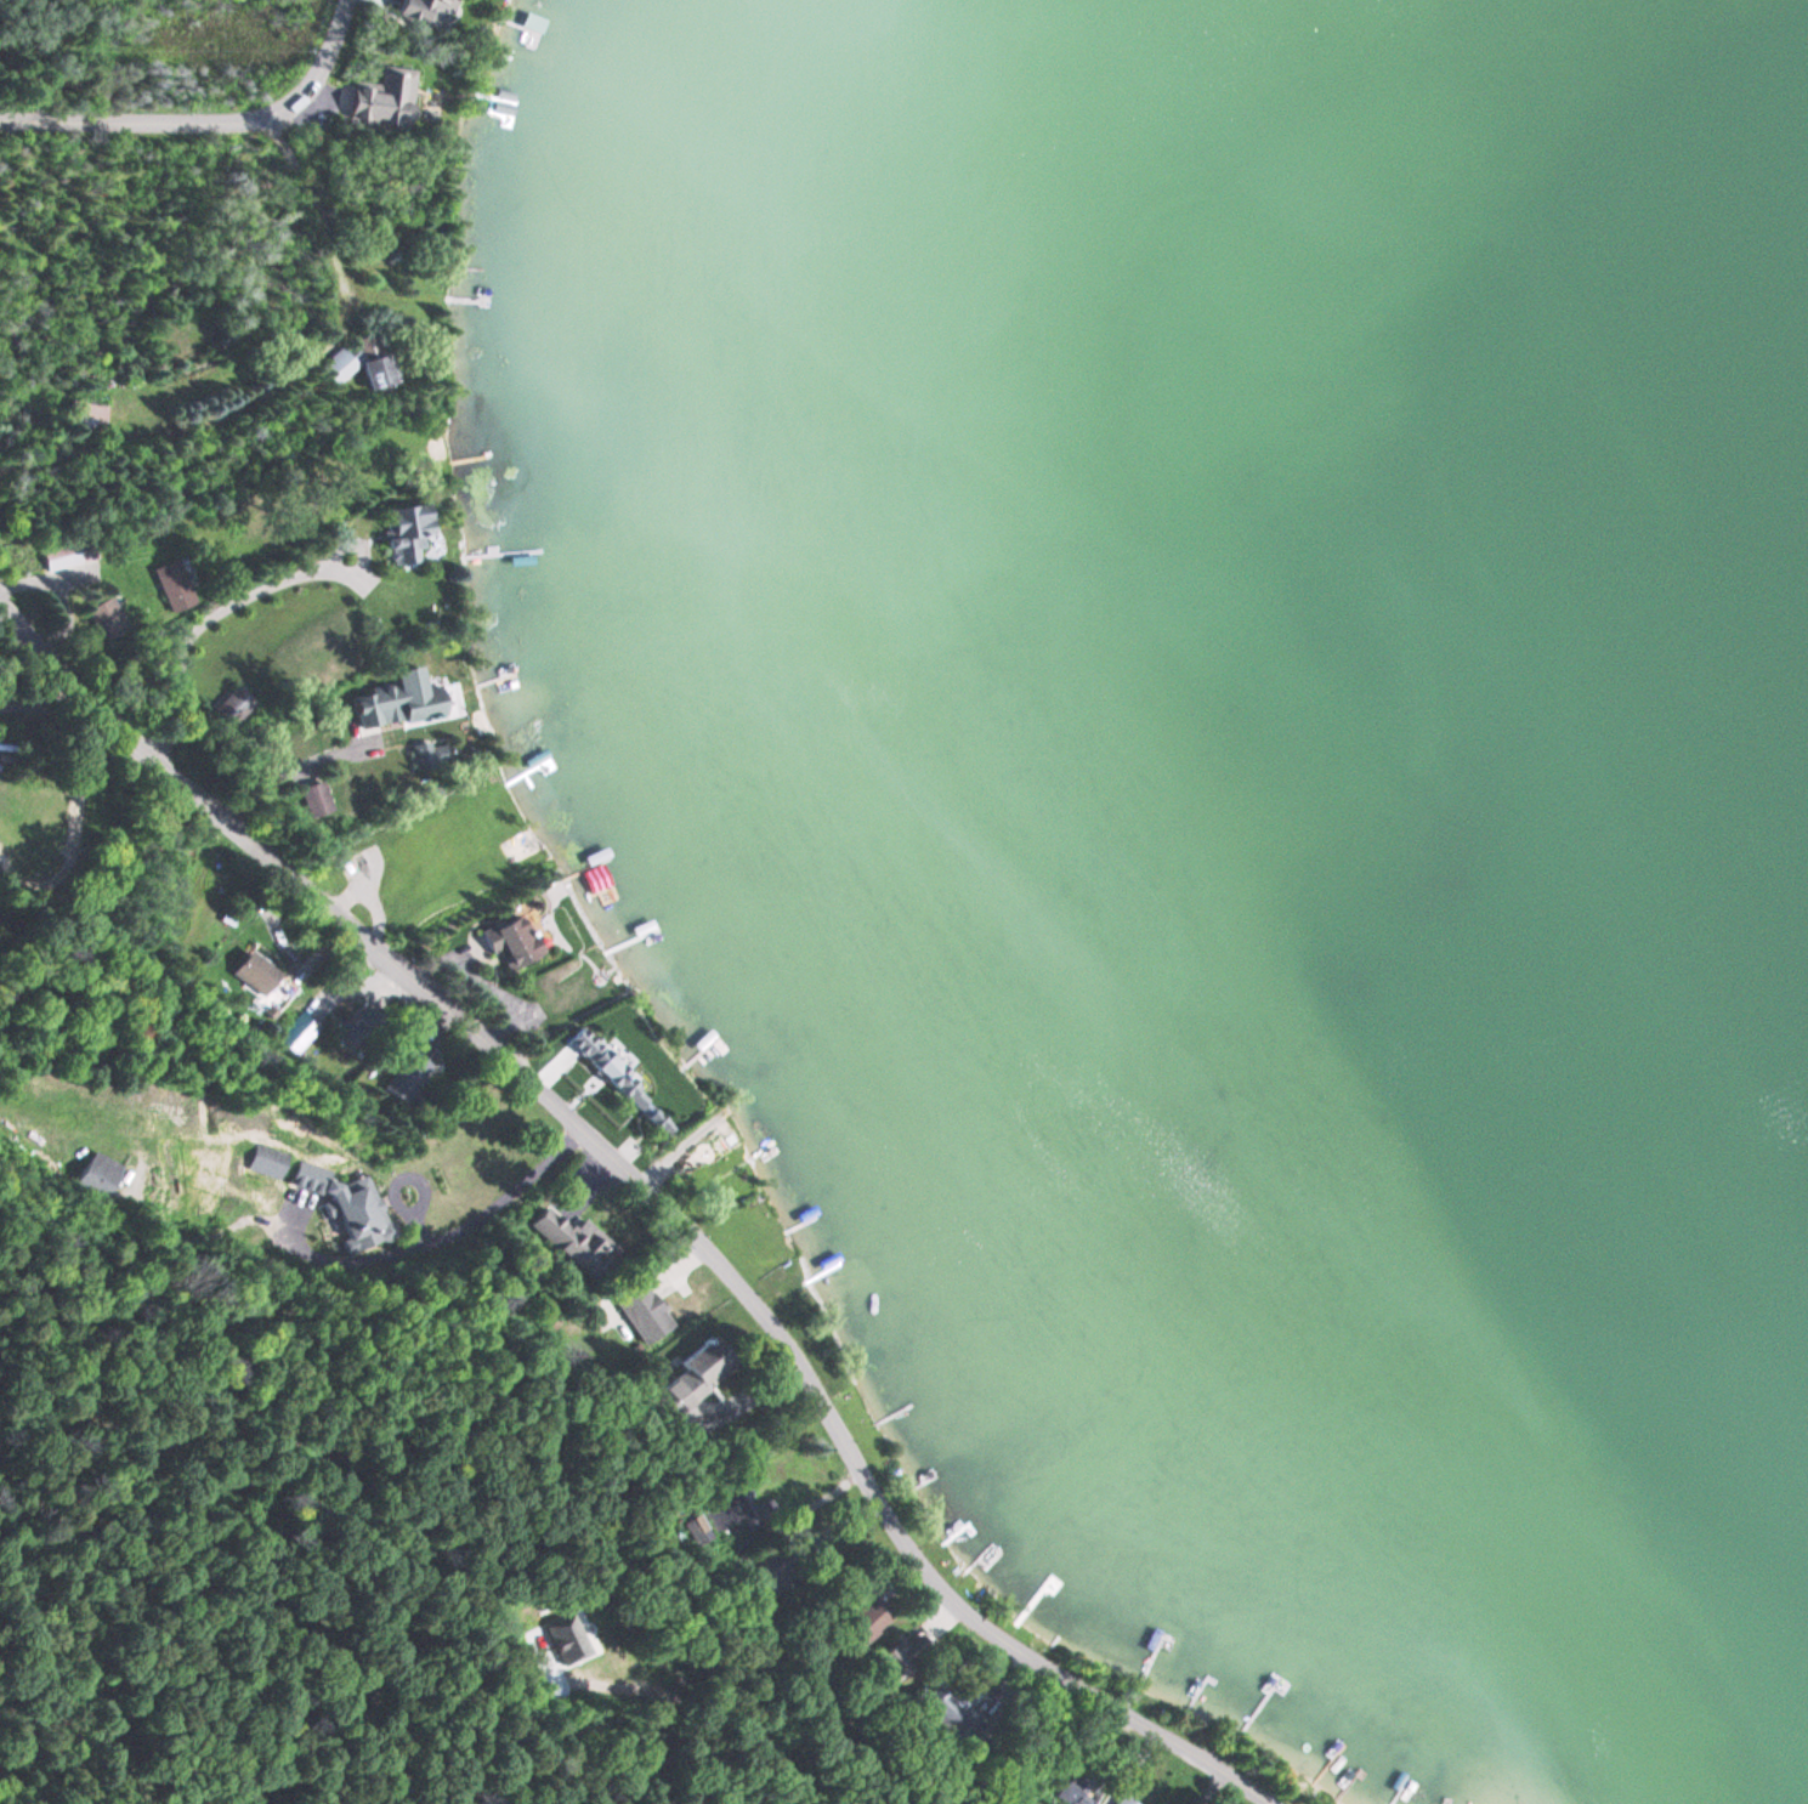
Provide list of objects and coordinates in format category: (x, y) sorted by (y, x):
building: (424, 8)
building: (379, 96)
road: (205, 120)
road: (321, 232)
building: (338, 367)
building: (378, 370)
building: (86, 413)
building: (406, 532)
building: (67, 554)
building: (172, 586)
building: (106, 620)
building: (399, 699)
building: (423, 756)
building: (313, 799)
building: (594, 875)
building: (512, 942)
building: (261, 981)
building: (296, 1032)
building: (406, 1078)
building: (265, 1161)
building: (97, 1175)
road: (661, 1196)
building: (346, 1204)
building: (572, 1239)
building: (695, 1382)
building: (721, 1511)
building: (566, 1640)
building: (939, 1711)
building: (1072, 1796)
building: (1123, 1799)

